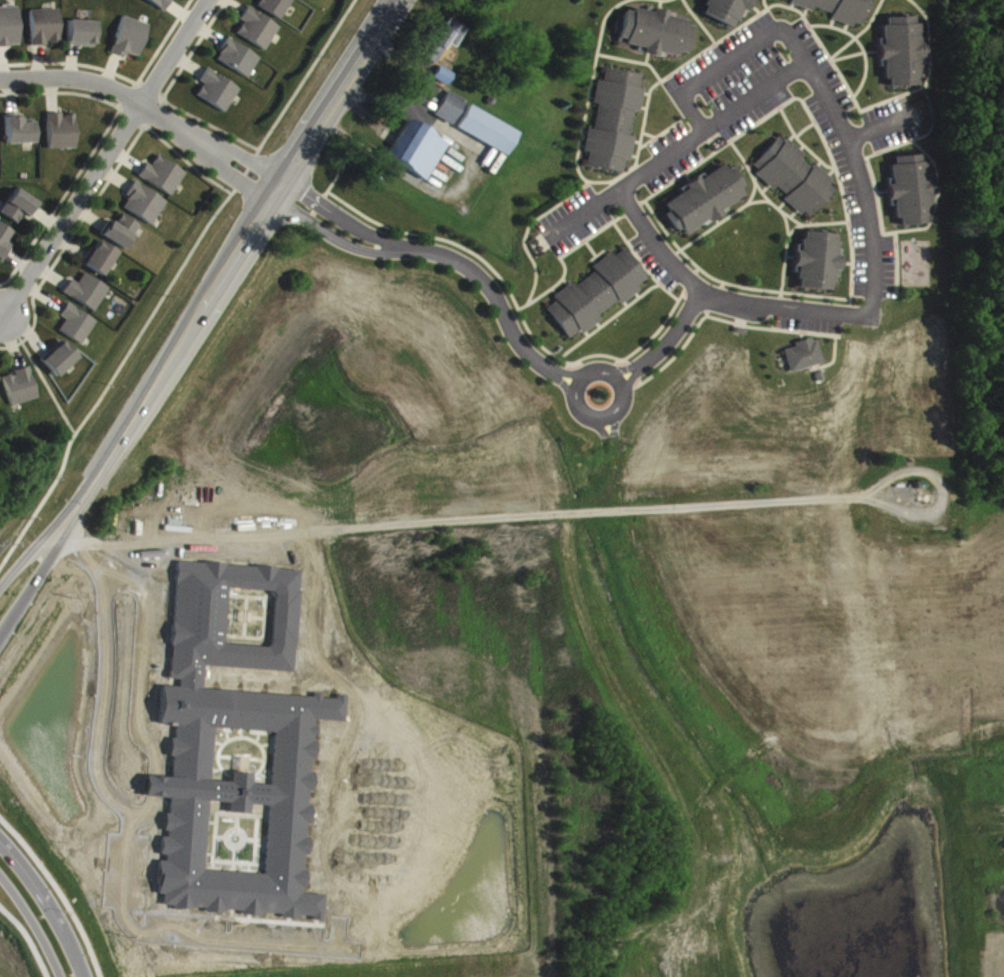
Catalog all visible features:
building: (160, 4)
building: (278, 9)
building: (838, 11)
building: (727, 13)
building: (10, 31)
building: (46, 31)
building: (259, 33)
building: (654, 36)
building: (83, 37)
building: (131, 41)
building: (446, 43)
building: (902, 56)
road: (725, 59)
building: (239, 62)
building: (445, 80)
building: (219, 95)
road: (140, 108)
building: (453, 112)
building: (615, 125)
building: (490, 134)
building: (18, 135)
building: (61, 135)
road: (675, 148)
building: (419, 154)
road: (101, 156)
building: (164, 179)
road: (857, 180)
building: (795, 181)
building: (911, 194)
building: (704, 204)
building: (145, 207)
building: (20, 210)
road: (213, 214)
building: (122, 235)
road: (231, 242)
building: (4, 246)
road: (441, 255)
building: (101, 262)
building: (818, 265)
building: (88, 295)
building: (597, 297)
road: (716, 298)
building: (77, 328)
road: (666, 345)
building: (804, 359)
building: (61, 362)
road: (38, 372)
road: (572, 385)
building: (22, 391)
road: (42, 497)
road: (456, 522)
road: (39, 536)
road: (43, 562)
road: (139, 663)
road: (153, 784)
road: (143, 808)
road: (126, 830)
road: (56, 895)
road: (45, 908)
road: (31, 926)
road: (25, 940)

